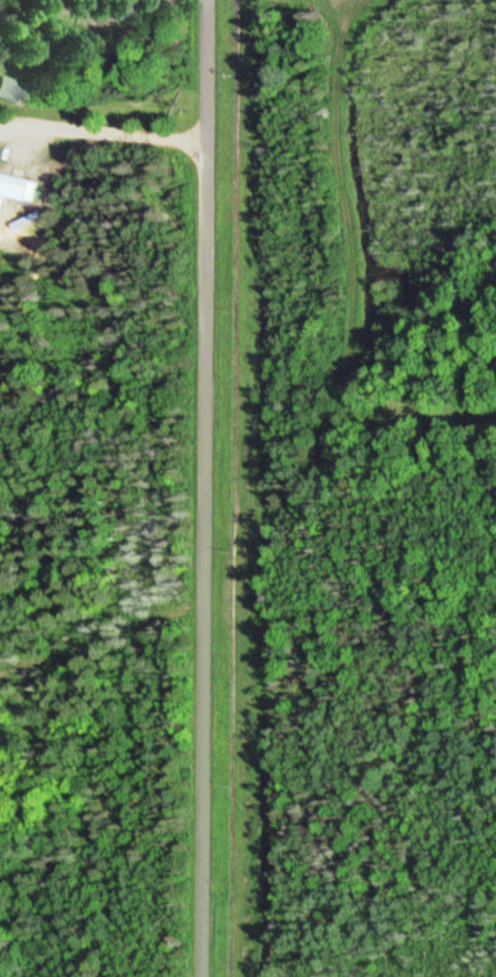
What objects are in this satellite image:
building: (11, 90)
road: (103, 134)
building: (16, 187)
road: (207, 488)

